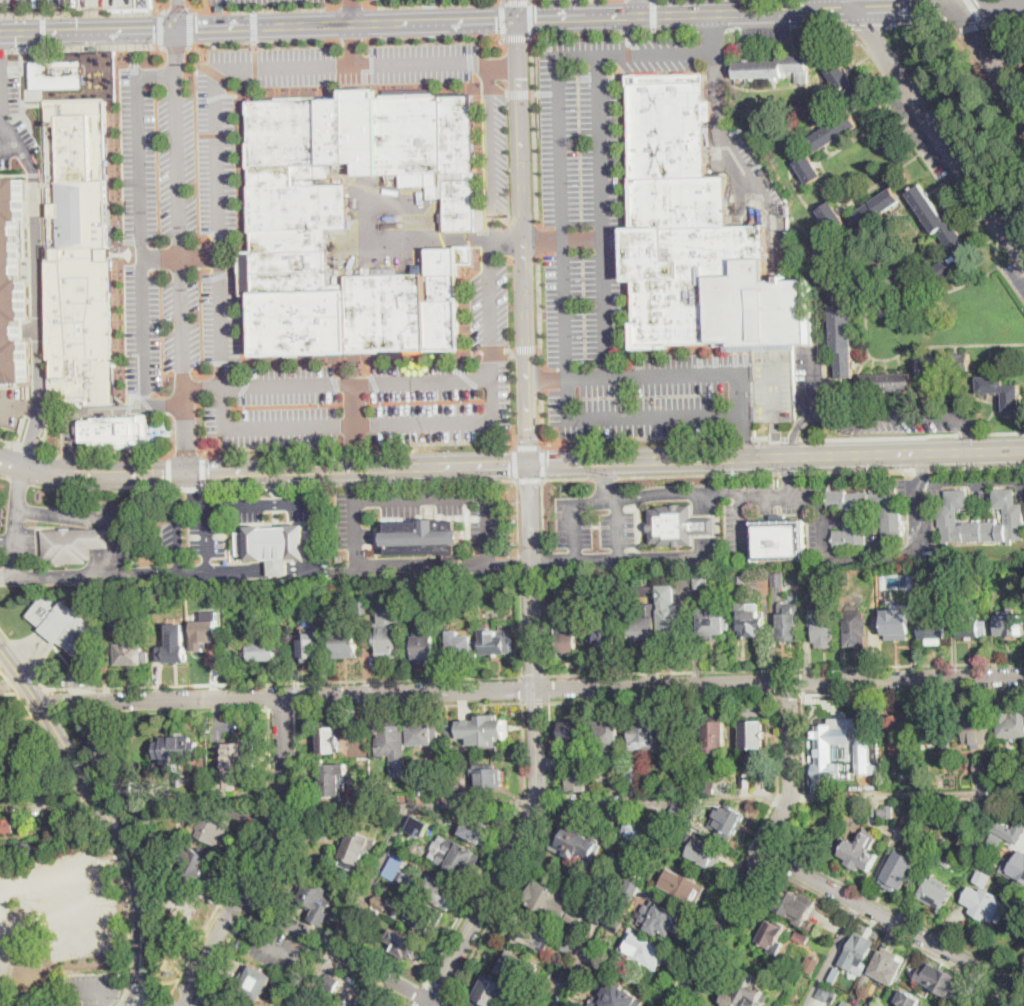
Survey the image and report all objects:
parking lot: (235, 0)
road: (502, 0)
road: (529, 0)
road: (546, 0)
road: (516, 1)
road: (952, 2)
parking lot: (63, 3)
building: (118, 3)
road: (432, 3)
road: (989, 4)
road: (804, 5)
road: (351, 6)
road: (906, 6)
road: (0, 7)
building: (220, 7)
road: (641, 7)
road: (265, 8)
road: (519, 8)
road: (179, 10)
road: (351, 11)
road: (749, 11)
road: (975, 11)
road: (84, 12)
road: (654, 14)
road: (579, 15)
road: (530, 16)
traffic signals: (536, 16)
traffic signals: (496, 17)
road: (504, 17)
road: (924, 22)
road: (1003, 22)
road: (822, 23)
road: (253, 24)
road: (259, 24)
road: (871, 24)
road: (970, 25)
road: (190, 26)
road: (767, 26)
road: (161, 27)
traffic signals: (178, 27)
road: (734, 27)
road: (712, 28)
road: (42, 29)
road: (612, 30)
road: (714, 30)
parking lot: (766, 31)
building: (636, 32)
road: (432, 35)
road: (517, 36)
road: (351, 38)
road: (263, 39)
road: (353, 43)
road: (506, 43)
road: (88, 45)
road: (176, 47)
road: (6, 48)
road: (1003, 55)
road: (989, 57)
parking lot: (348, 64)
road: (418, 64)
road: (505, 65)
road: (507, 66)
building: (775, 68)
building: (58, 75)
traffic signals: (521, 76)
building: (847, 85)
road: (507, 86)
road: (530, 92)
road: (518, 93)
park: (968, 108)
parking lot: (8, 111)
road: (718, 119)
road: (534, 130)
building: (833, 132)
road: (940, 132)
road: (14, 141)
parking lot: (496, 149)
parking lot: (177, 165)
building: (809, 169)
road: (932, 169)
parking lot: (757, 172)
building: (875, 208)
road: (367, 209)
building: (299, 213)
building: (831, 216)
parking lot: (390, 219)
road: (522, 224)
road: (509, 231)
building: (695, 234)
road: (179, 236)
road: (140, 238)
building: (953, 238)
road: (460, 239)
road: (509, 239)
road: (537, 239)
road: (565, 239)
building: (78, 255)
road: (160, 258)
parking lot: (613, 258)
road: (818, 276)
building: (882, 276)
parking lot: (1014, 276)
building: (13, 284)
road: (220, 302)
road: (539, 302)
road: (36, 313)
building: (842, 329)
road: (866, 337)
road: (525, 348)
road: (488, 349)
road: (540, 356)
building: (944, 364)
parking lot: (313, 373)
road: (587, 375)
road: (547, 376)
road: (541, 378)
parking lot: (801, 378)
road: (812, 380)
building: (887, 382)
building: (775, 387)
parking garage: (775, 387)
building: (1000, 390)
road: (494, 403)
road: (354, 404)
parking lot: (10, 406)
road: (19, 407)
road: (81, 412)
road: (643, 415)
road: (888, 415)
road: (542, 418)
road: (198, 428)
road: (794, 430)
building: (114, 431)
road: (965, 432)
road: (998, 432)
road: (966, 434)
road: (744, 435)
road: (760, 435)
road: (775, 435)
road: (740, 436)
road: (785, 437)
road: (793, 437)
road: (879, 437)
road: (635, 438)
road: (776, 438)
road: (174, 439)
road: (10, 442)
road: (441, 442)
road: (355, 444)
road: (273, 445)
road: (355, 445)
road: (527, 445)
road: (30, 448)
road: (188, 450)
road: (103, 459)
road: (605, 460)
traffic signals: (530, 462)
road: (543, 462)
road: (514, 463)
road: (978, 465)
road: (922, 466)
road: (922, 467)
road: (854, 469)
road: (787, 471)
road: (204, 472)
road: (169, 473)
traffic signals: (188, 473)
road: (696, 473)
road: (93, 474)
road: (788, 474)
road: (604, 476)
road: (5, 477)
road: (567, 477)
road: (528, 479)
road: (965, 479)
road: (604, 480)
road: (21, 481)
road: (439, 482)
road: (355, 483)
road: (353, 485)
road: (273, 487)
road: (187, 489)
road: (100, 491)
road: (748, 491)
road: (659, 492)
road: (378, 499)
road: (298, 502)
road: (541, 512)
parking lot: (1, 515)
road: (94, 515)
building: (1014, 515)
building: (853, 519)
parking lot: (593, 520)
road: (16, 521)
road: (741, 521)
road: (531, 525)
building: (677, 525)
parking lot: (736, 528)
road: (175, 531)
road: (7, 538)
building: (427, 540)
building: (780, 540)
building: (73, 544)
building: (276, 545)
parking lot: (0, 546)
road: (864, 554)
road: (543, 556)
road: (694, 556)
road: (618, 557)
building: (340, 558)
road: (554, 560)
road: (228, 571)
road: (102, 574)
building: (945, 576)
building: (741, 578)
building: (846, 579)
building: (779, 580)
building: (702, 582)
building: (609, 584)
building: (573, 585)
building: (436, 586)
building: (446, 588)
building: (648, 589)
building: (375, 590)
building: (116, 597)
building: (263, 603)
building: (363, 607)
building: (713, 622)
building: (788, 622)
building: (672, 623)
building: (122, 624)
building: (821, 624)
building: (897, 624)
building: (64, 625)
building: (133, 625)
building: (752, 625)
building: (971, 625)
building: (1010, 625)
building: (932, 627)
building: (855, 629)
building: (207, 634)
building: (604, 634)
building: (642, 634)
building: (387, 636)
building: (566, 638)
building: (176, 641)
building: (495, 642)
building: (345, 644)
building: (462, 645)
building: (308, 646)
building: (425, 648)
building: (267, 650)
building: (130, 653)
road: (22, 657)
road: (715, 670)
road: (20, 675)
road: (522, 676)
road: (546, 676)
road: (533, 677)
road: (905, 679)
road: (381, 680)
road: (803, 680)
road: (776, 681)
road: (11, 682)
road: (524, 687)
road: (545, 687)
road: (46, 692)
road: (413, 692)
road: (833, 692)
road: (789, 693)
road: (670, 696)
road: (536, 697)
road: (548, 698)
road: (524, 699)
road: (55, 703)
road: (281, 707)
road: (164, 711)
building: (1010, 725)
building: (976, 727)
building: (486, 728)
building: (937, 729)
building: (451, 731)
building: (900, 731)
building: (569, 732)
building: (605, 733)
building: (424, 734)
building: (646, 735)
building: (713, 736)
building: (752, 736)
building: (328, 739)
building: (391, 739)
road: (524, 741)
building: (103, 748)
building: (841, 753)
building: (177, 754)
building: (578, 758)
building: (236, 766)
building: (982, 768)
building: (618, 771)
building: (4, 775)
building: (634, 775)
building: (441, 776)
building: (487, 776)
building: (875, 776)
building: (905, 778)
building: (334, 779)
building: (582, 781)
building: (746, 781)
building: (616, 787)
building: (708, 787)
building: (454, 788)
building: (122, 789)
building: (22, 794)
building: (371, 795)
road: (652, 802)
road: (296, 804)
building: (996, 806)
building: (887, 812)
building: (682, 814)
building: (441, 819)
building: (147, 821)
road: (112, 822)
building: (729, 823)
building: (418, 825)
building: (7, 826)
road: (101, 827)
building: (635, 828)
building: (1000, 828)
building: (211, 829)
building: (476, 830)
building: (655, 838)
building: (995, 840)
building: (574, 844)
building: (27, 849)
building: (149, 849)
road: (889, 849)
building: (355, 850)
building: (858, 850)
building: (647, 851)
road: (762, 851)
building: (404, 854)
building: (706, 854)
road: (772, 855)
road: (258, 857)
building: (458, 857)
road: (241, 861)
building: (946, 861)
building: (192, 864)
building: (394, 866)
building: (902, 869)
building: (1020, 870)
road: (63, 875)
building: (983, 878)
road: (243, 886)
building: (686, 888)
building: (630, 889)
building: (438, 893)
building: (934, 894)
building: (320, 900)
building: (554, 901)
building: (381, 902)
road: (250, 903)
building: (794, 904)
building: (985, 904)
road: (231, 906)
road: (85, 910)
road: (895, 910)
building: (637, 912)
building: (424, 917)
building: (664, 919)
building: (615, 921)
road: (888, 921)
road: (881, 926)
road: (17, 927)
building: (337, 927)
building: (355, 933)
building: (535, 933)
road: (729, 934)
building: (801, 936)
building: (772, 937)
building: (571, 943)
building: (407, 945)
building: (858, 952)
road: (339, 953)
building: (647, 953)
road: (283, 954)
road: (831, 955)
road: (221, 958)
road: (577, 963)
building: (811, 964)
building: (886, 965)
building: (516, 966)
road: (1018, 966)
building: (833, 973)
building: (941, 979)
road: (135, 981)
road: (147, 981)
road: (1004, 982)
building: (256, 983)
building: (330, 983)
building: (863, 984)
road: (141, 985)
road: (436, 990)
road: (88, 992)
building: (492, 992)
building: (746, 992)
road: (1012, 992)
road: (419, 993)
building: (828, 995)
building: (621, 997)
road: (976, 997)
road: (159, 999)
building: (907, 999)
building: (378, 1001)
road: (444, 1001)
park: (1020, 1001)
building: (534, 1003)
road: (174, 1004)
road: (194, 1004)
road: (219, 1004)
building: (317, 1004)
road: (414, 1004)
road: (418, 1004)
building: (845, 1004)
road: (137, 1005)
road: (185, 1005)
building: (853, 1005)
building: (868, 1005)

